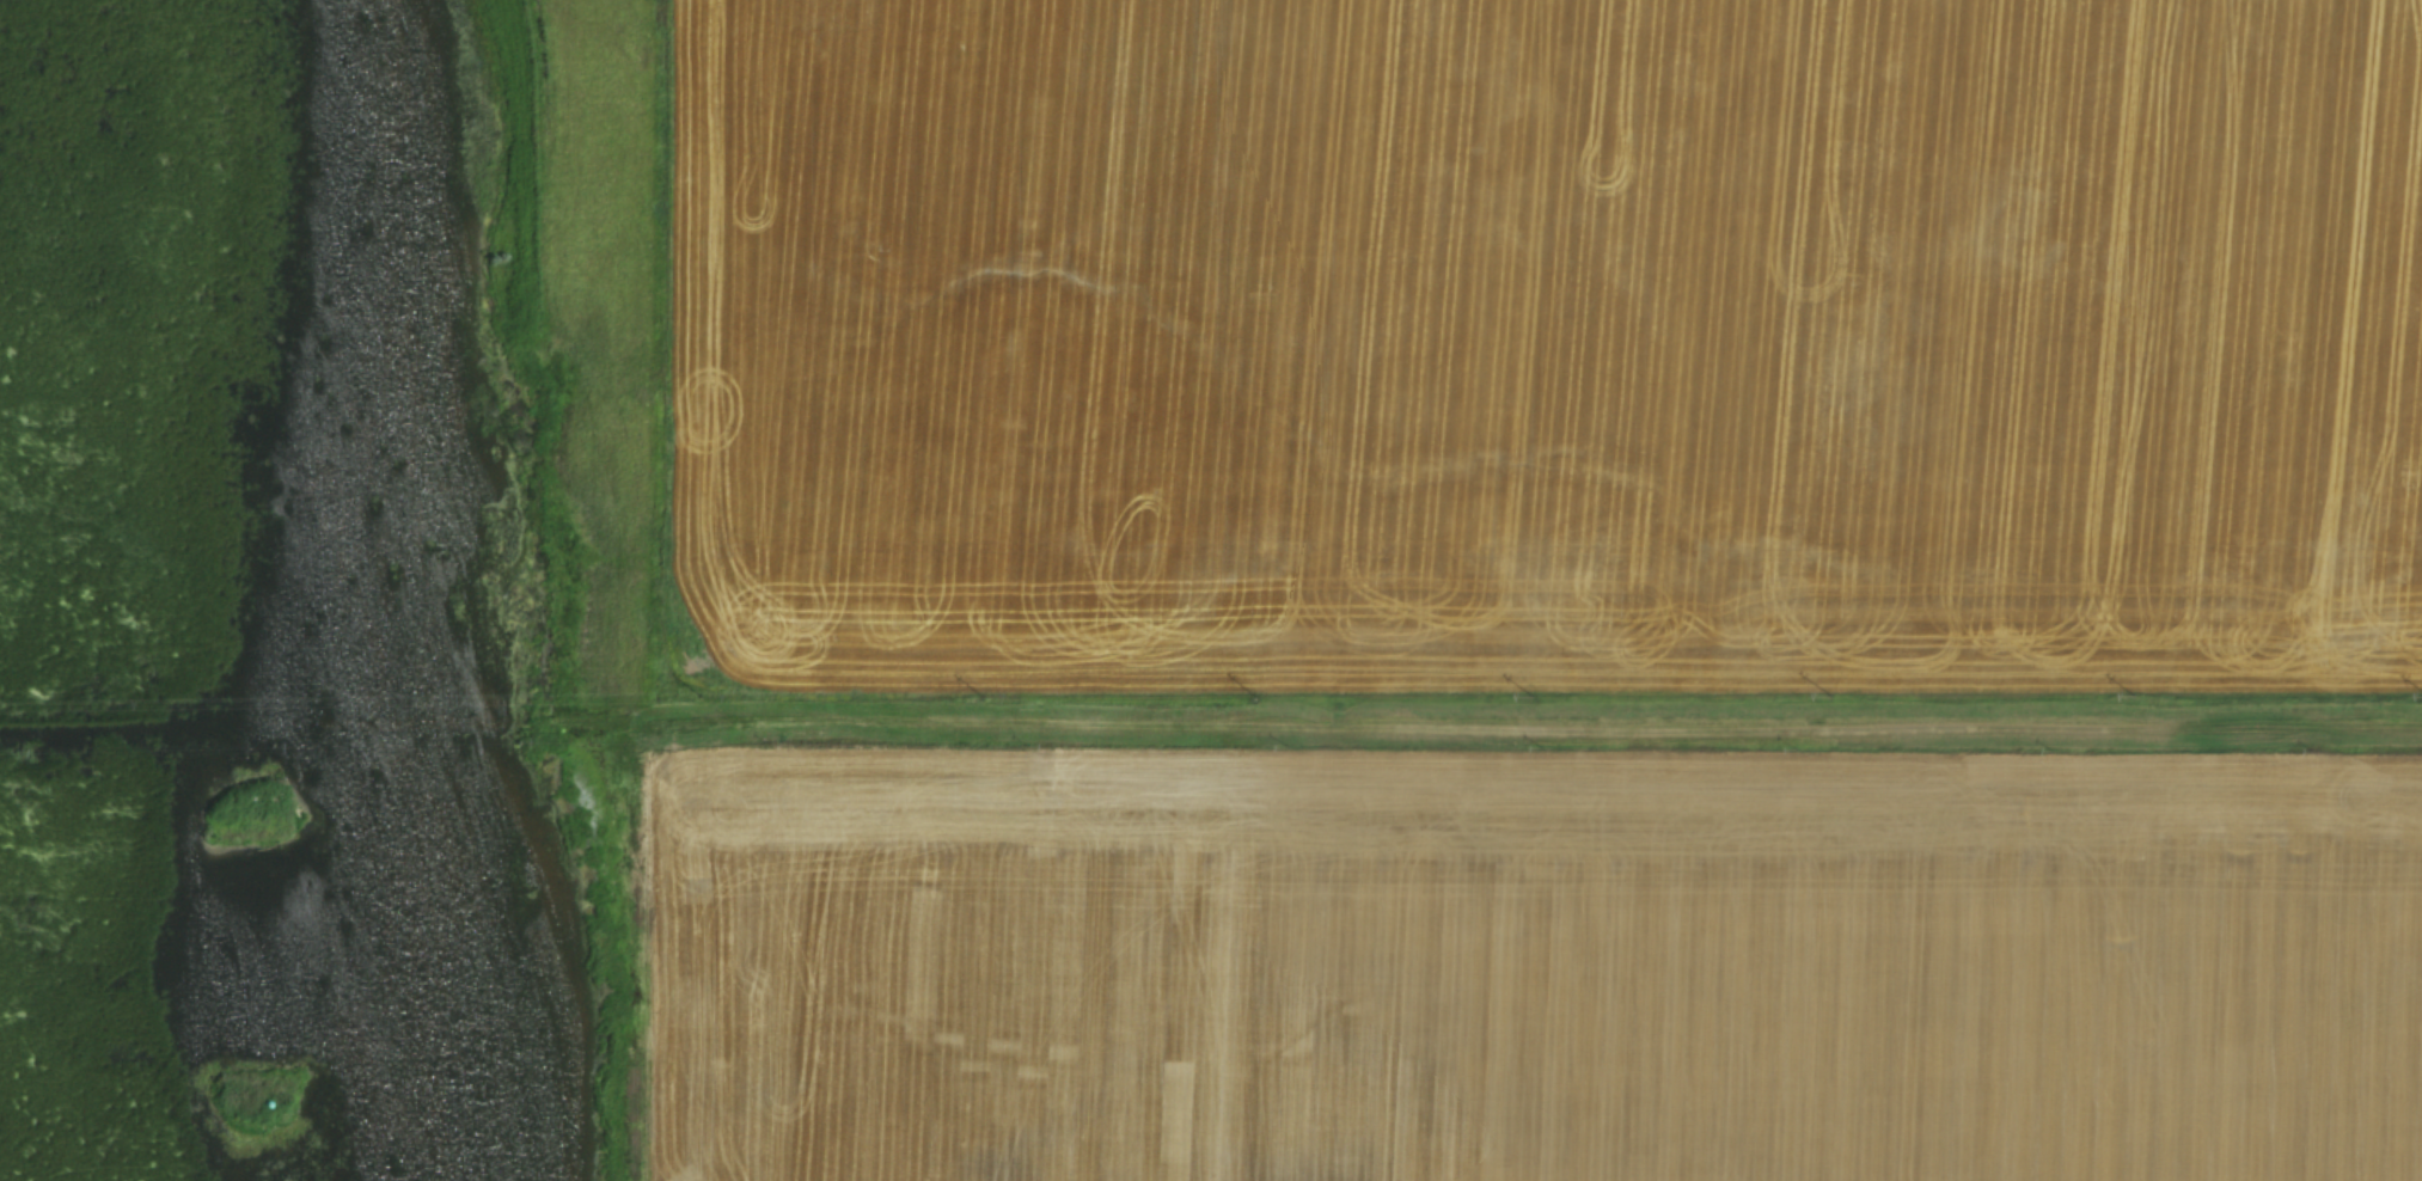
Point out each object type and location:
crop: (1549, 339)

